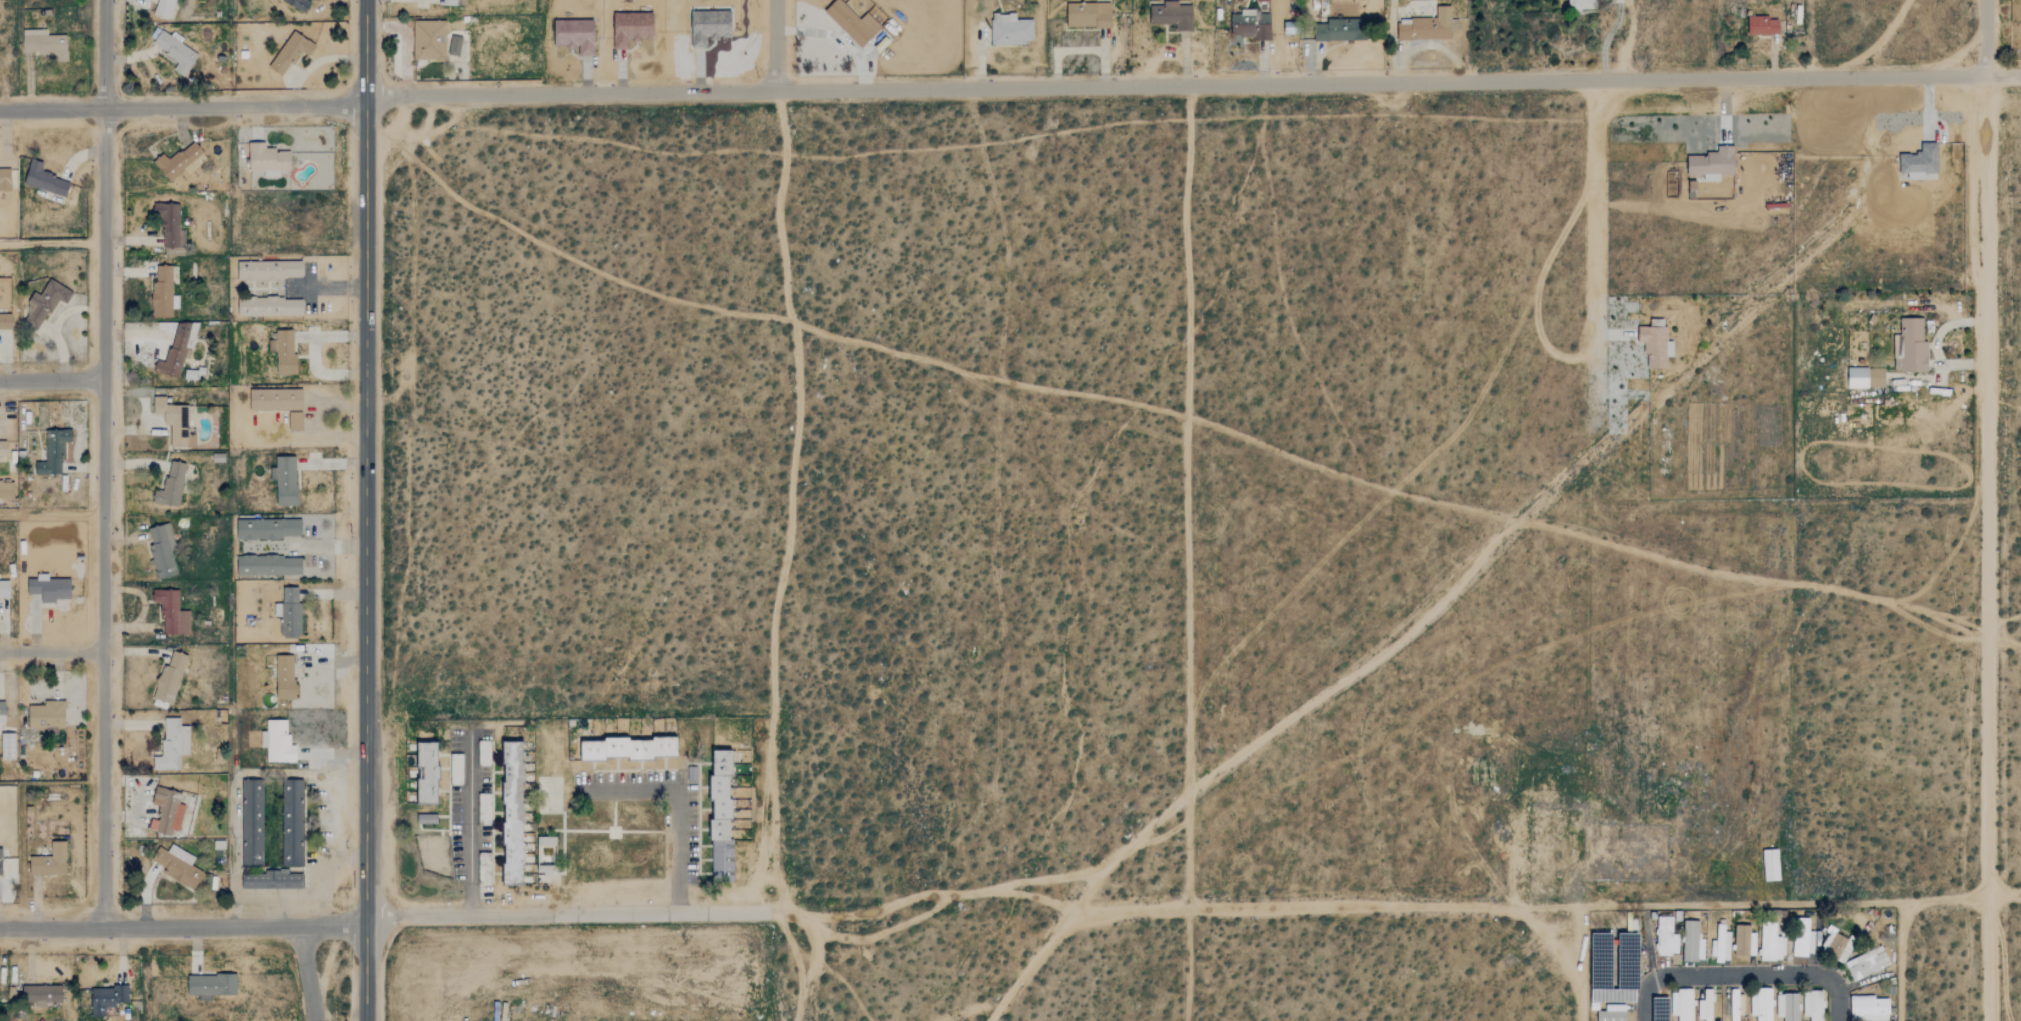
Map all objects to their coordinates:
building: (1260, 0)
building: (447, 2)
building: (298, 4)
building: (1581, 4)
building: (164, 8)
building: (1172, 14)
building: (1089, 15)
building: (852, 22)
building: (1251, 24)
building: (1763, 25)
building: (709, 26)
building: (1427, 26)
building: (631, 28)
building: (1010, 29)
building: (1341, 29)
building: (575, 35)
road: (1986, 38)
building: (429, 39)
road: (1607, 39)
building: (43, 43)
road: (775, 45)
road: (1427, 45)
building: (455, 46)
building: (175, 52)
building: (291, 52)
road: (2004, 75)
road: (1381, 83)
road: (570, 94)
road: (235, 107)
road: (52, 108)
building: (1919, 157)
building: (268, 159)
building: (1711, 160)
building: (180, 161)
building: (5, 179)
building: (44, 179)
building: (169, 224)
road: (52, 243)
building: (270, 270)
building: (163, 293)
building: (45, 302)
building: (270, 306)
building: (5, 321)
road: (1595, 336)
building: (1653, 341)
building: (1912, 344)
road: (1936, 345)
building: (177, 349)
building: (284, 352)
building: (1864, 376)
road: (52, 380)
building: (276, 399)
building: (175, 422)
building: (295, 422)
building: (2, 447)
building: (53, 452)
road: (105, 464)
building: (285, 480)
building: (170, 486)
building: (6, 490)
road: (1192, 497)
road: (366, 510)
building: (269, 529)
road: (1985, 548)
building: (162, 551)
building: (269, 565)
road: (1755, 581)
building: (50, 588)
building: (4, 589)
building: (171, 612)
building: (289, 613)
road: (53, 649)
building: (170, 677)
building: (285, 677)
building: (2, 713)
road: (1303, 714)
building: (47, 717)
building: (277, 742)
building: (172, 745)
building: (7, 746)
building: (629, 749)
building: (484, 753)
building: (456, 770)
building: (428, 773)
road: (677, 806)
building: (168, 810)
building: (513, 814)
building: (722, 818)
building: (427, 820)
building: (251, 823)
building: (292, 823)
road: (468, 827)
building: (546, 841)
building: (50, 861)
building: (0, 863)
building: (179, 866)
building: (271, 880)
road: (2004, 896)
road: (1377, 906)
road: (568, 914)
road: (183, 927)
building: (1666, 937)
building: (1745, 941)
building: (1692, 942)
building: (1770, 943)
building: (1721, 945)
road: (1649, 946)
building: (1804, 946)
building: (1840, 948)
building: (1869, 963)
road: (307, 974)
road: (1742, 974)
building: (212, 984)
building: (42, 992)
building: (106, 996)
building: (1736, 1004)
building: (1681, 1005)
building: (1705, 1005)
building: (1762, 1005)
building: (1814, 1006)
building: (1788, 1007)
building: (1870, 1009)
building: (1613, 1013)

